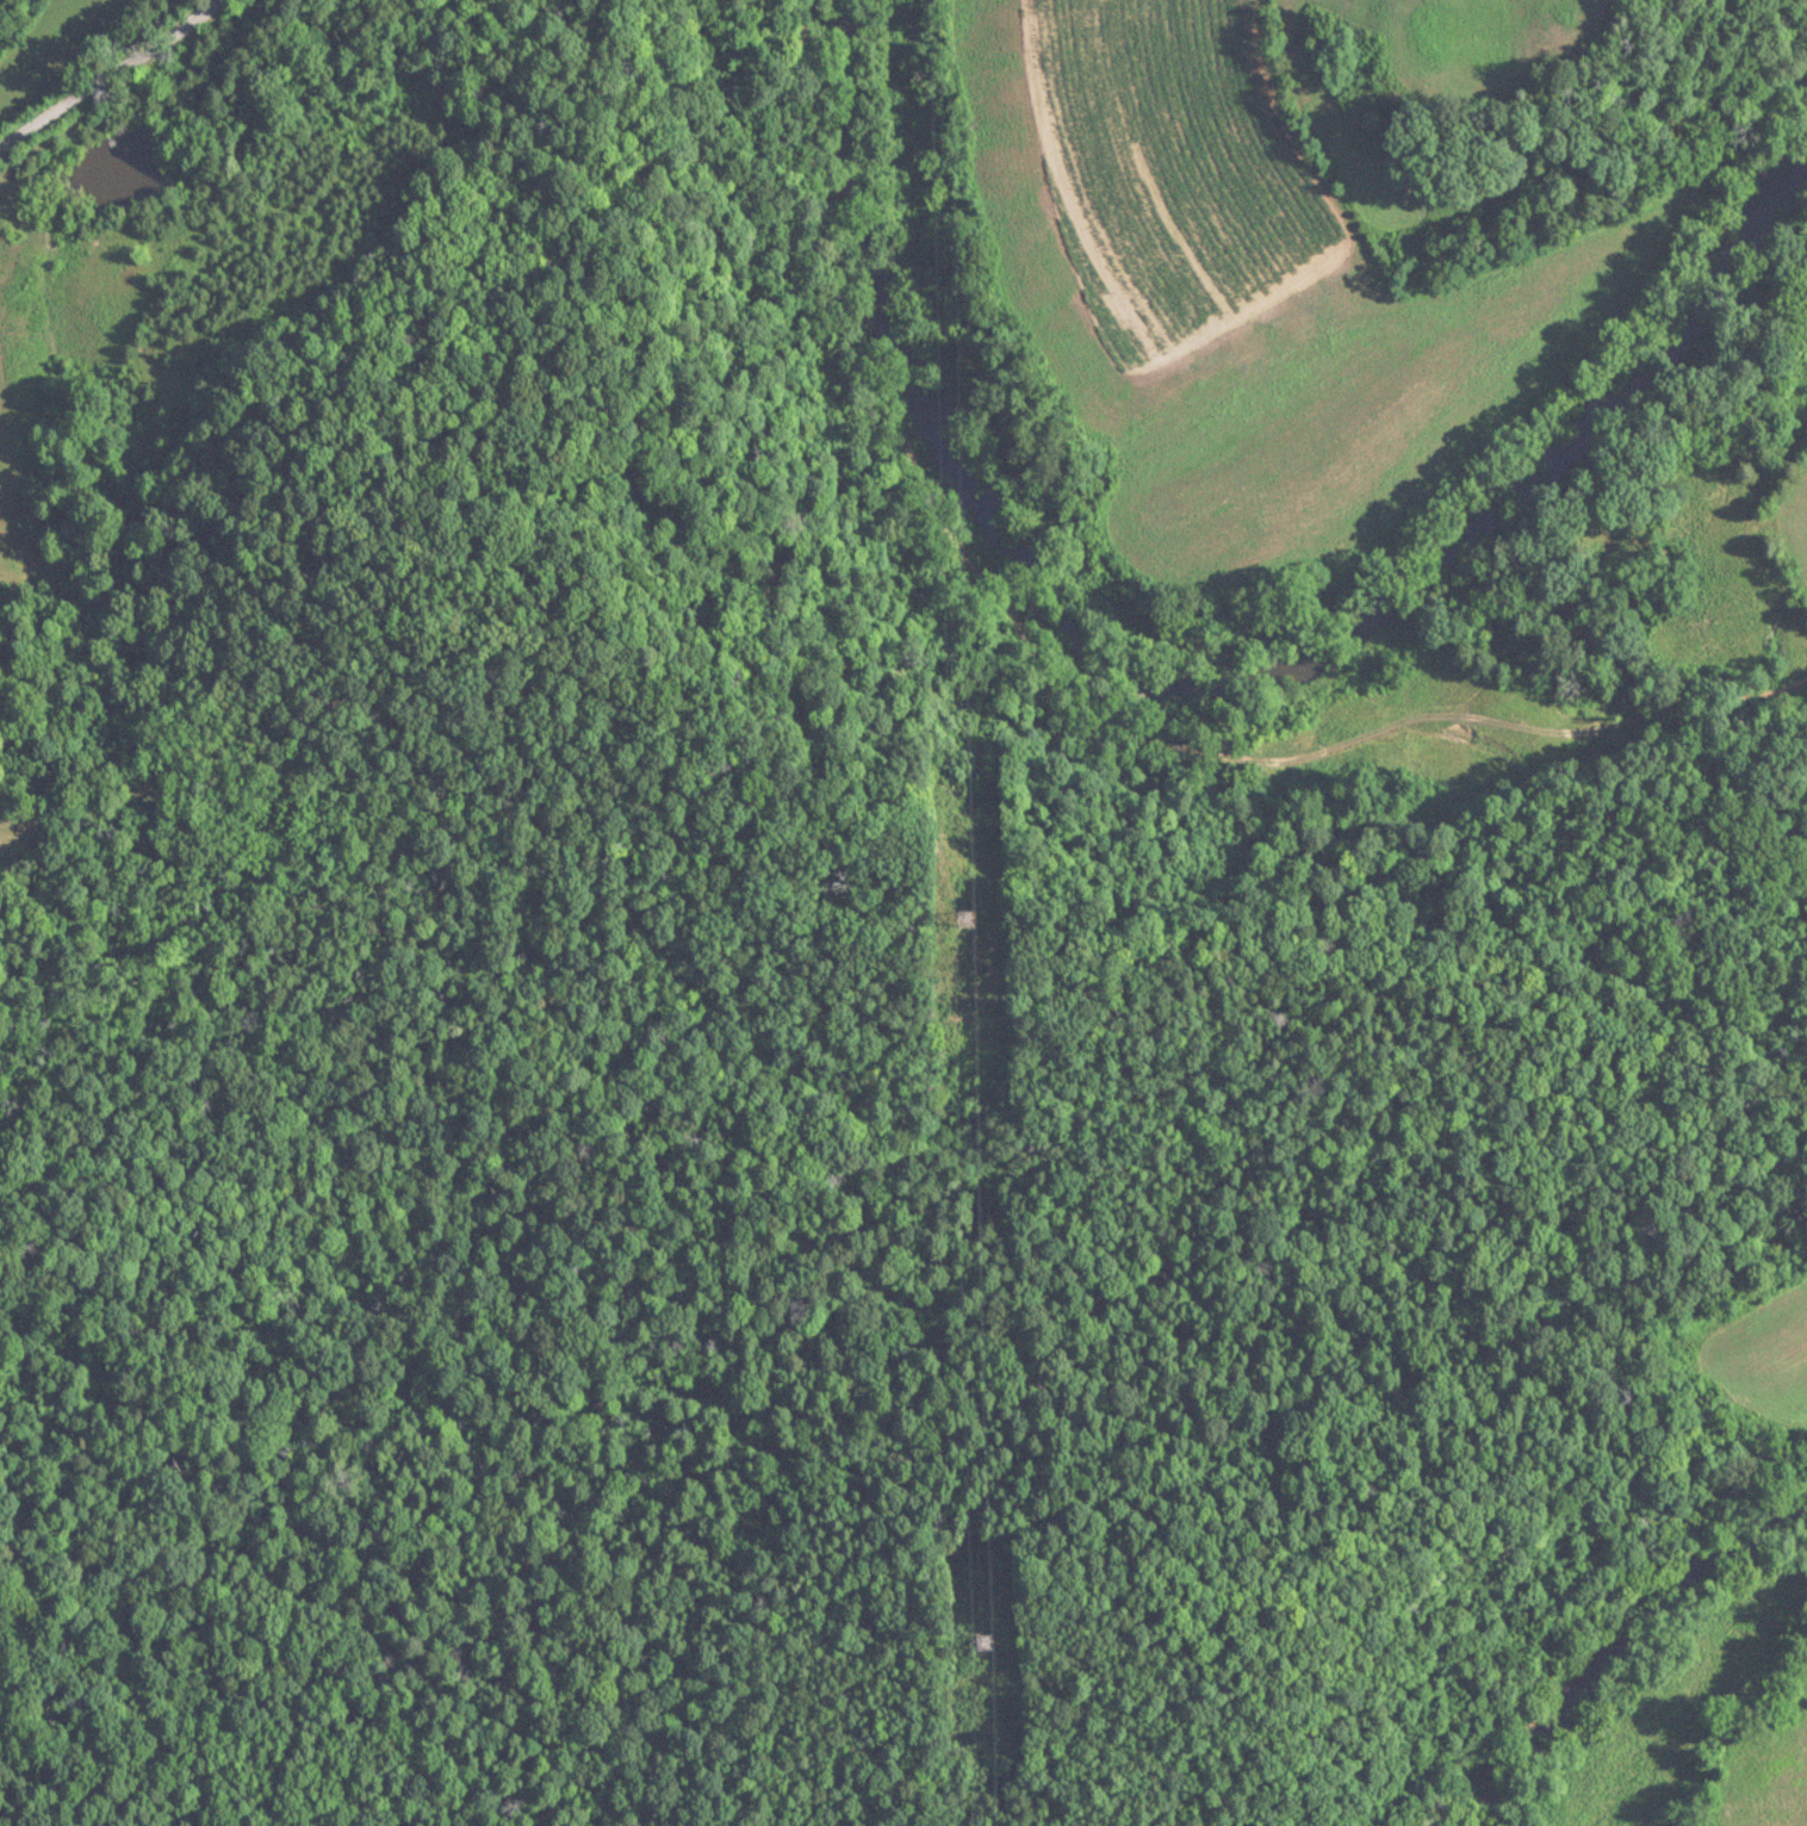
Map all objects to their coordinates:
road: (107, 74)
power tower: (969, 917)
power tower: (981, 1644)

